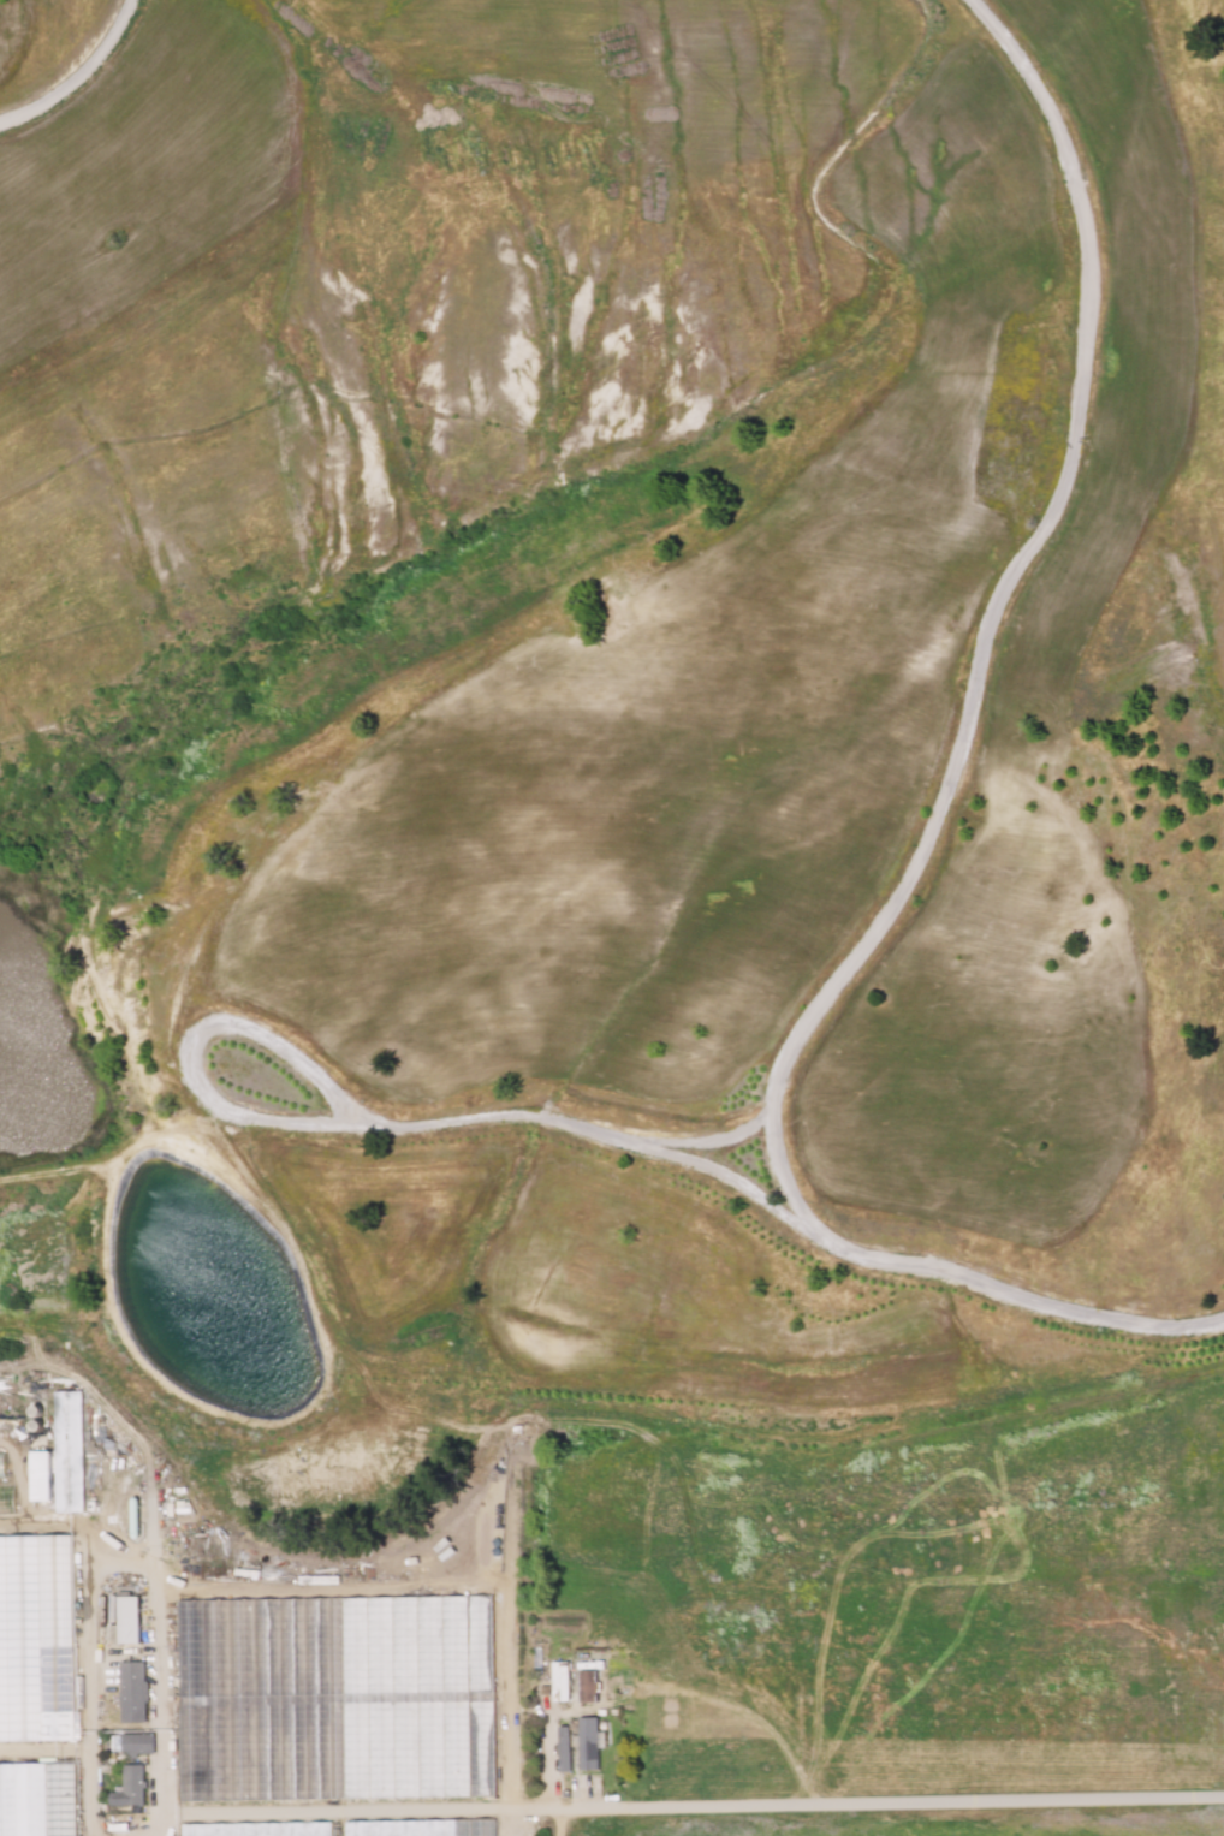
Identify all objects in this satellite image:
road: (83, 78)
road: (932, 825)
road: (353, 1119)
road: (731, 1184)
building: (66, 1449)
building: (0, 1463)
building: (38, 1474)
crop: (1005, 1585)
building: (120, 1618)
building: (225, 1653)
building: (445, 1663)
building: (559, 1677)
building: (586, 1685)
building: (130, 1691)
building: (133, 1742)
building: (587, 1742)
building: (562, 1747)
building: (126, 1786)
road: (712, 1806)

